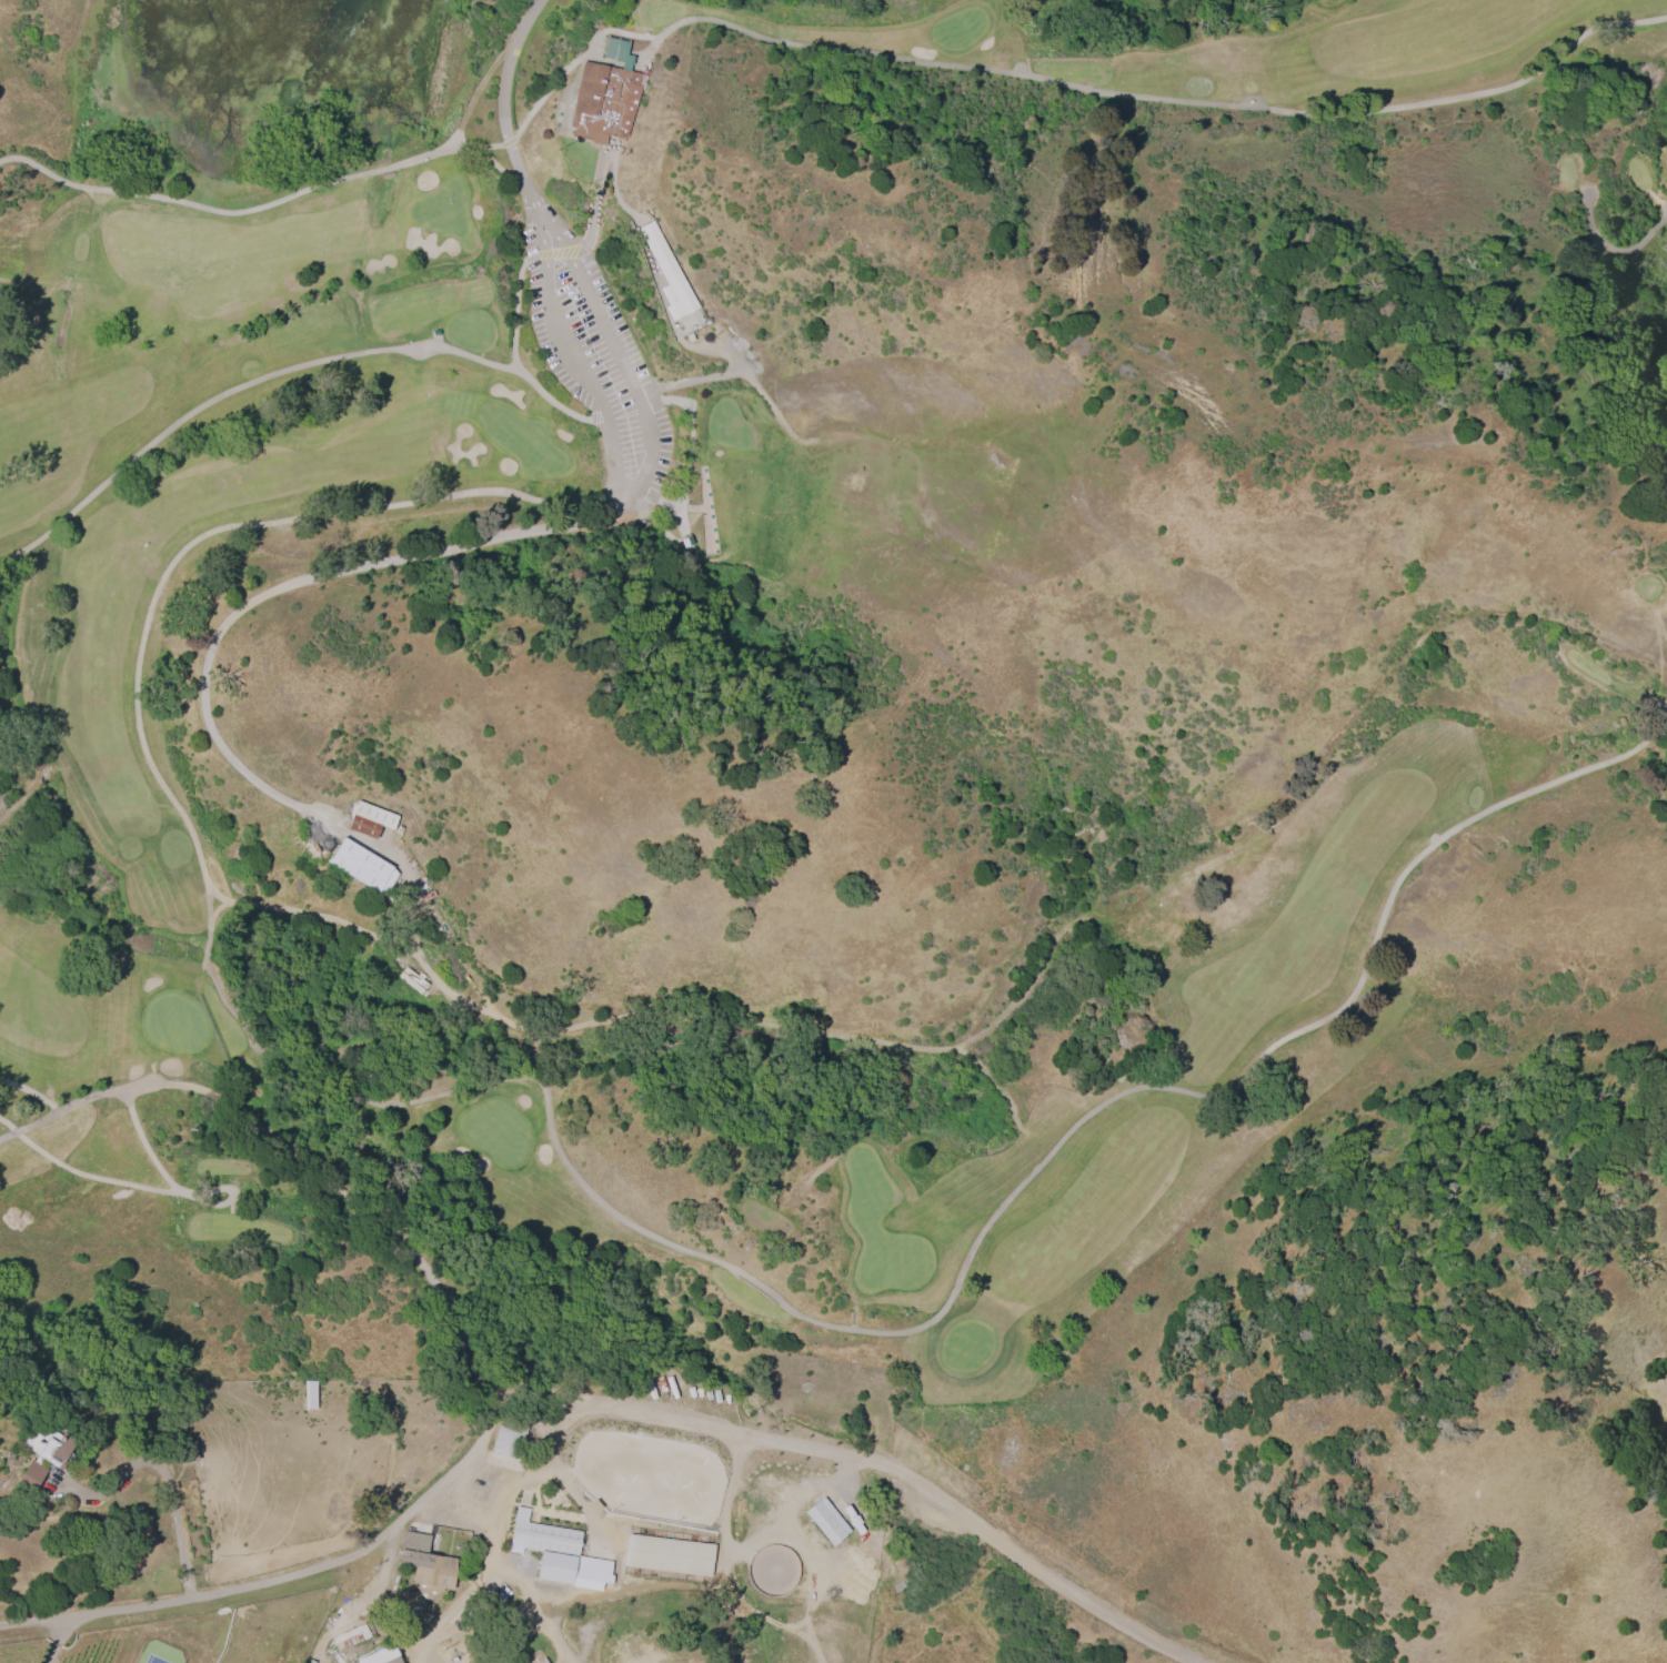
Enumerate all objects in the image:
road: (571, 62)
building: (604, 93)
road: (505, 97)
building: (666, 271)
road: (636, 485)
road: (315, 579)
park: (810, 634)
building: (369, 818)
building: (359, 864)
building: (413, 976)
building: (409, 981)
road: (453, 1329)
building: (508, 1439)
building: (32, 1441)
building: (53, 1447)
building: (31, 1472)
road: (167, 1482)
building: (593, 1504)
building: (826, 1520)
building: (550, 1546)
building: (667, 1553)
building: (426, 1564)
road: (481, 1570)
road: (277, 1581)
road: (522, 1581)
road: (676, 1583)
road: (1071, 1591)
road: (938, 1605)
road: (503, 1635)
building: (349, 1636)
road: (53, 1640)
building: (459, 1651)
building: (380, 1655)
building: (541, 1660)

